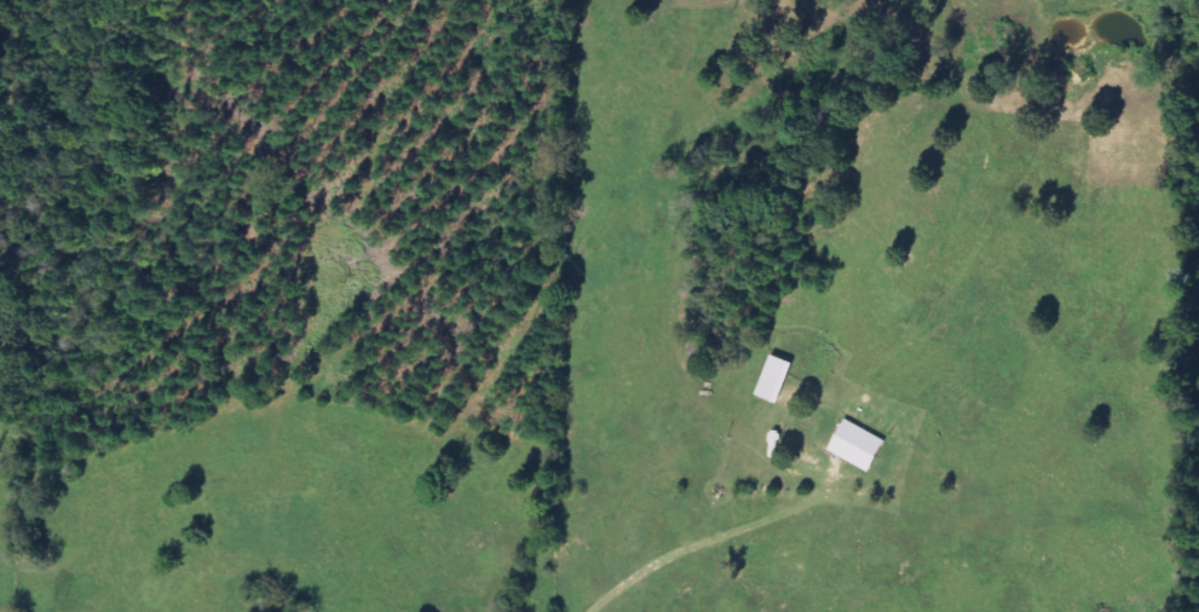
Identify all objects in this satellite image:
building: (777, 380)
building: (859, 446)

